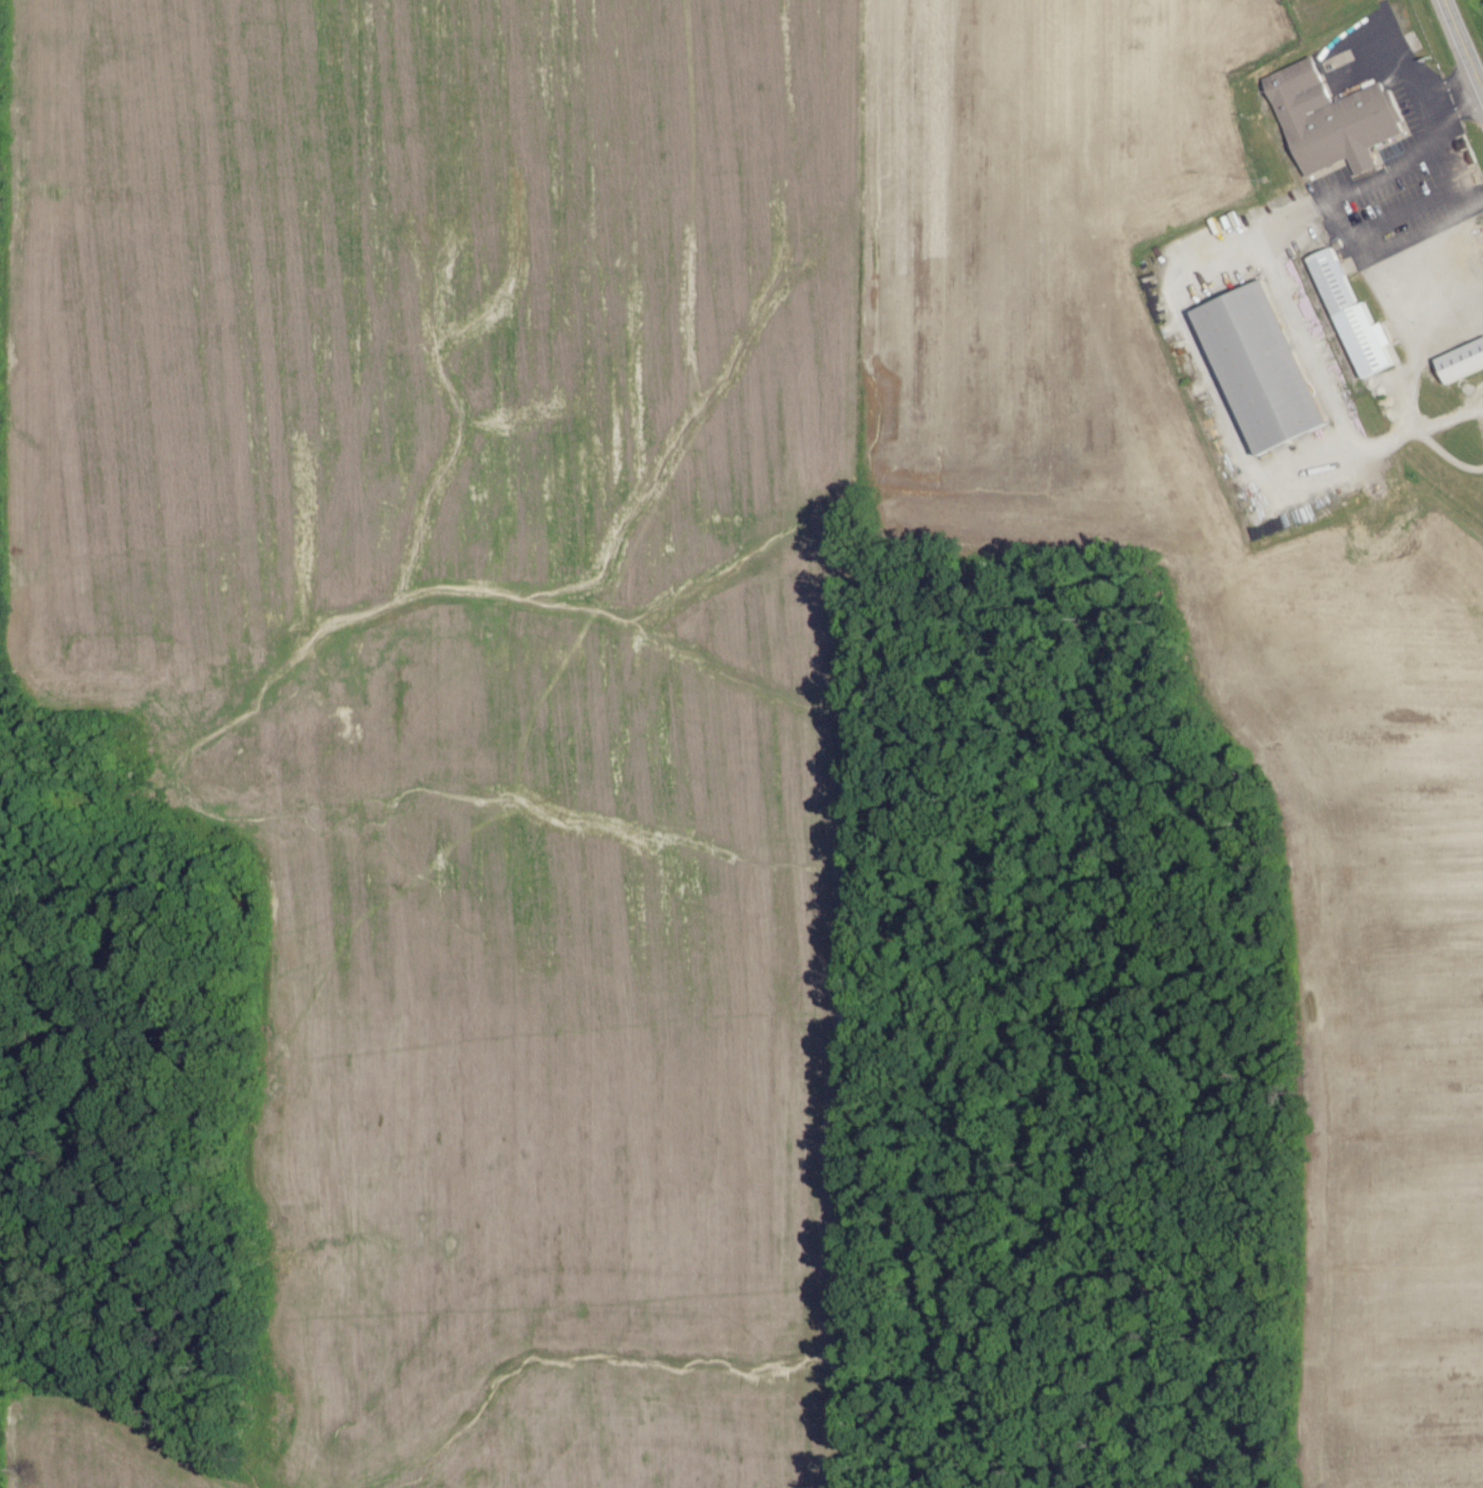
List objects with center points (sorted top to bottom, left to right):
road: (1458, 58)
building: (1337, 119)
building: (1357, 316)
road: (1308, 354)
building: (1462, 363)
building: (1271, 366)

